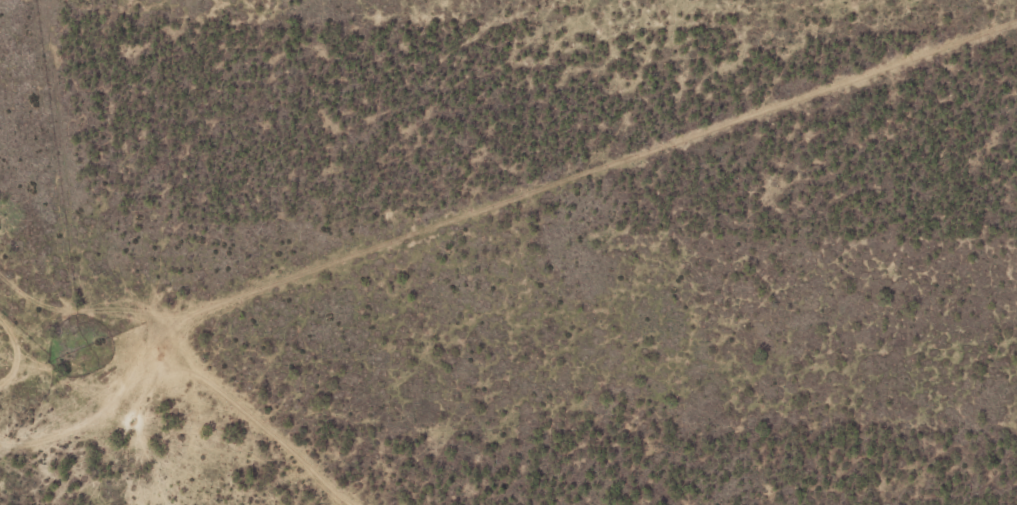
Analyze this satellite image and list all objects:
road: (179, 364)

